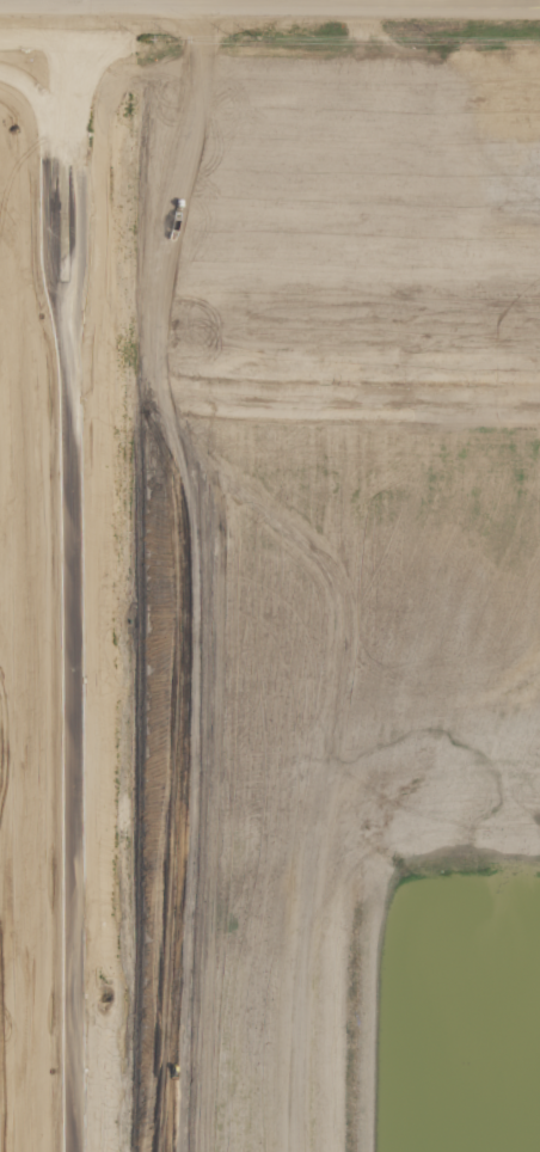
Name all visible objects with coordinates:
road: (70, 2)
road: (36, 6)
road: (306, 7)
road: (72, 578)

